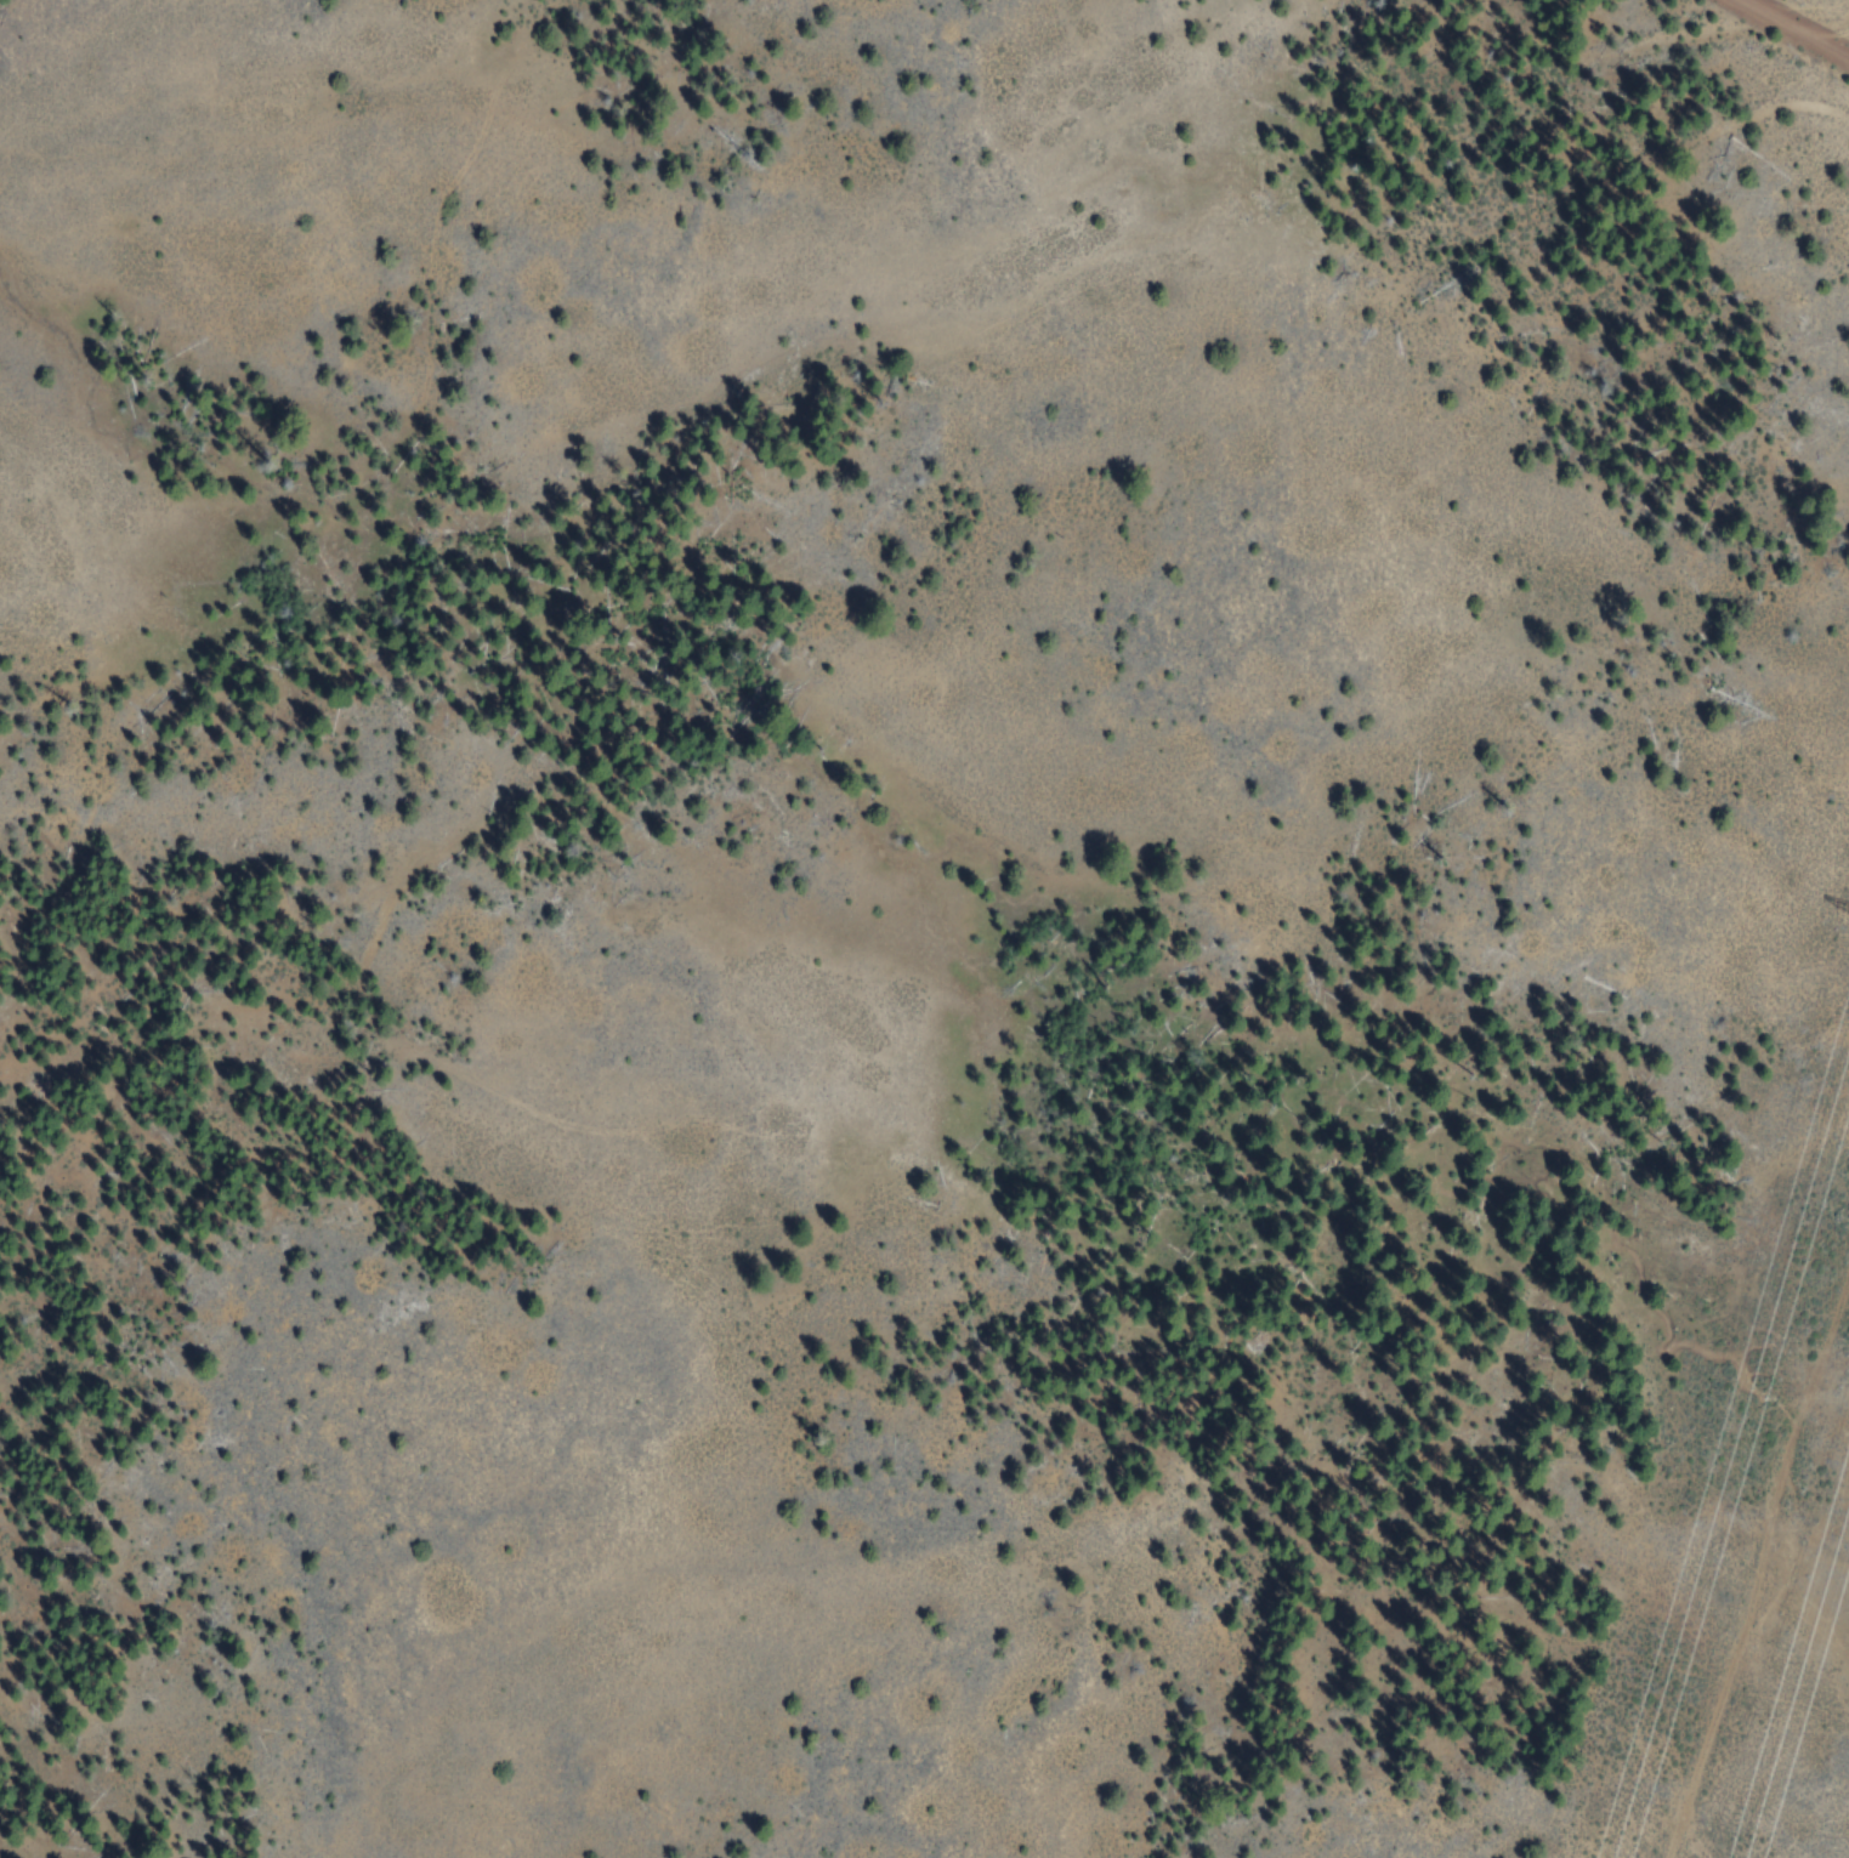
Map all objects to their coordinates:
road: (1803, 24)
road: (1760, 1556)

